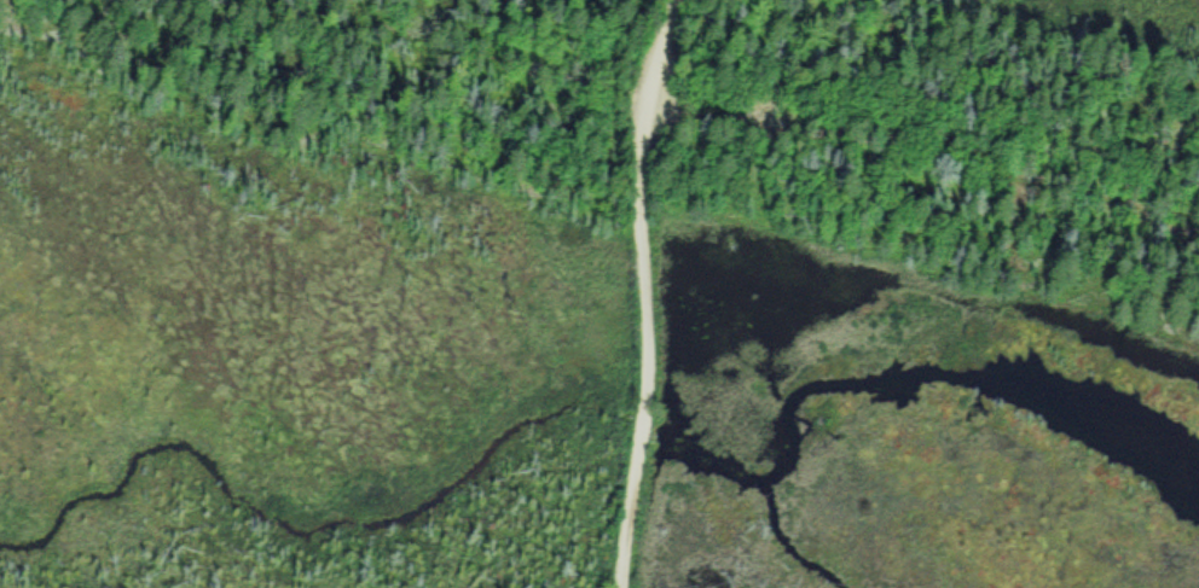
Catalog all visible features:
road: (926, 129)
road: (638, 291)

